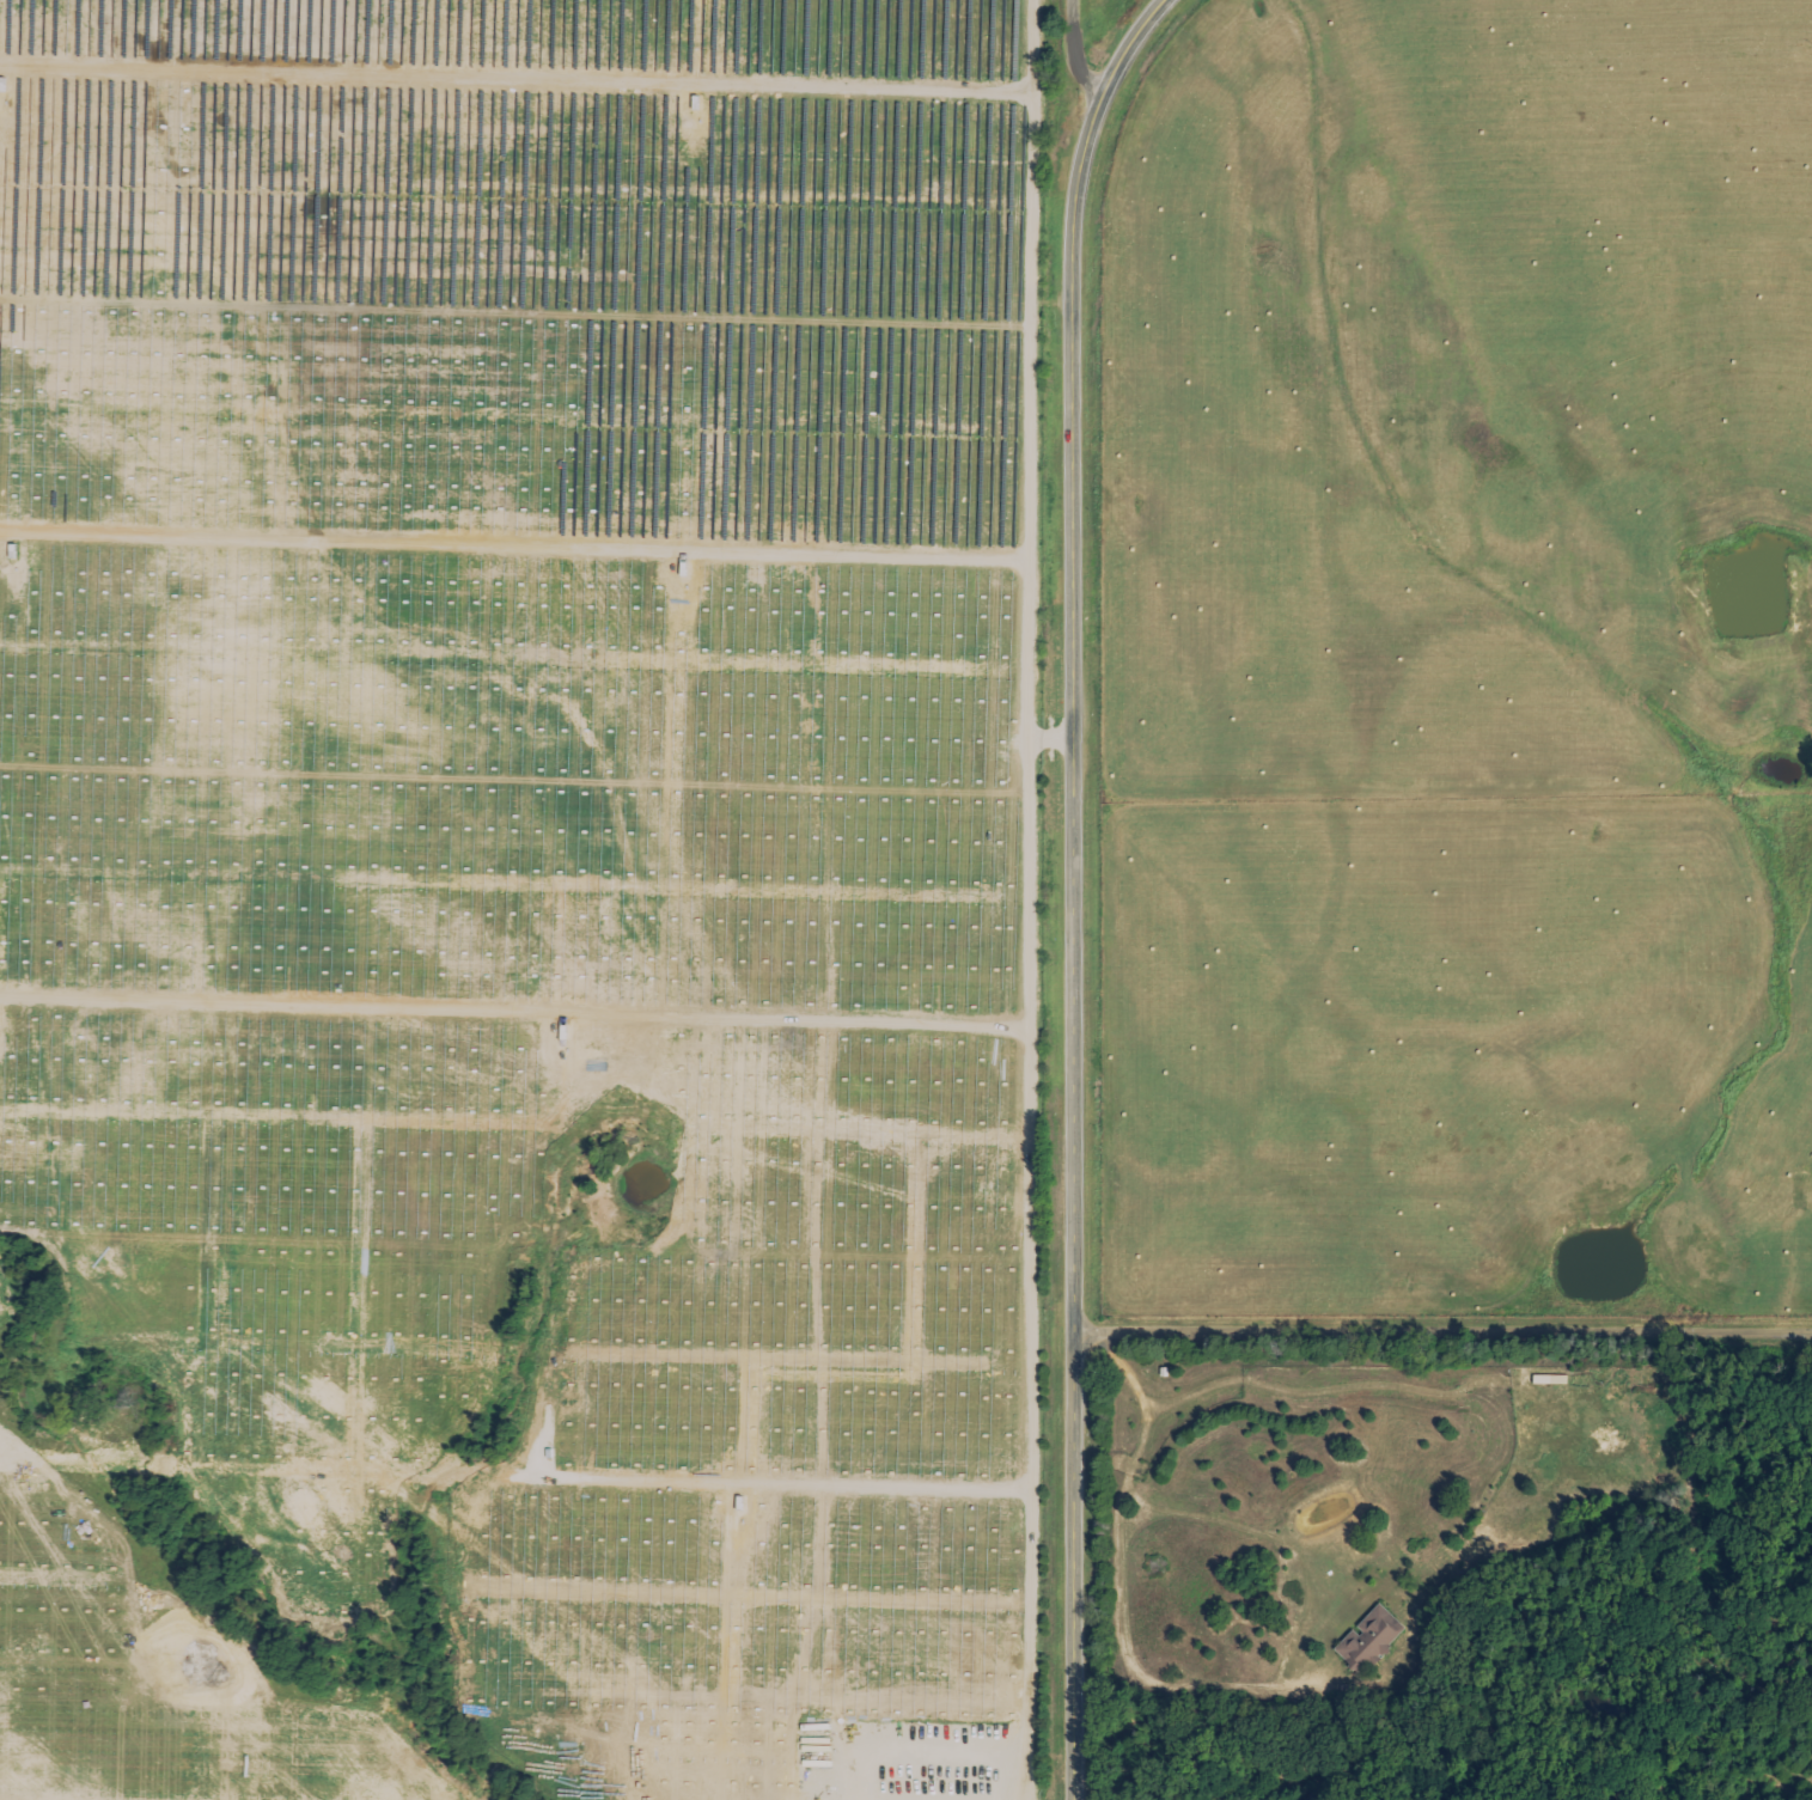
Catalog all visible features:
road: (1099, 45)
road: (1076, 890)
road: (1445, 1325)
building: (1549, 1379)
building: (1369, 1637)
road: (1180, 1683)

